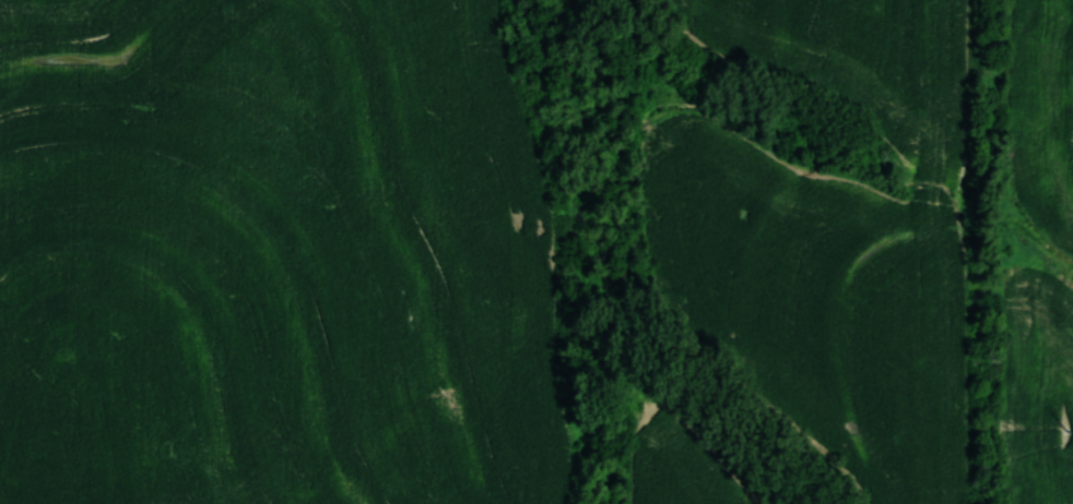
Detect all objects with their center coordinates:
power tower: (1065, 433)

